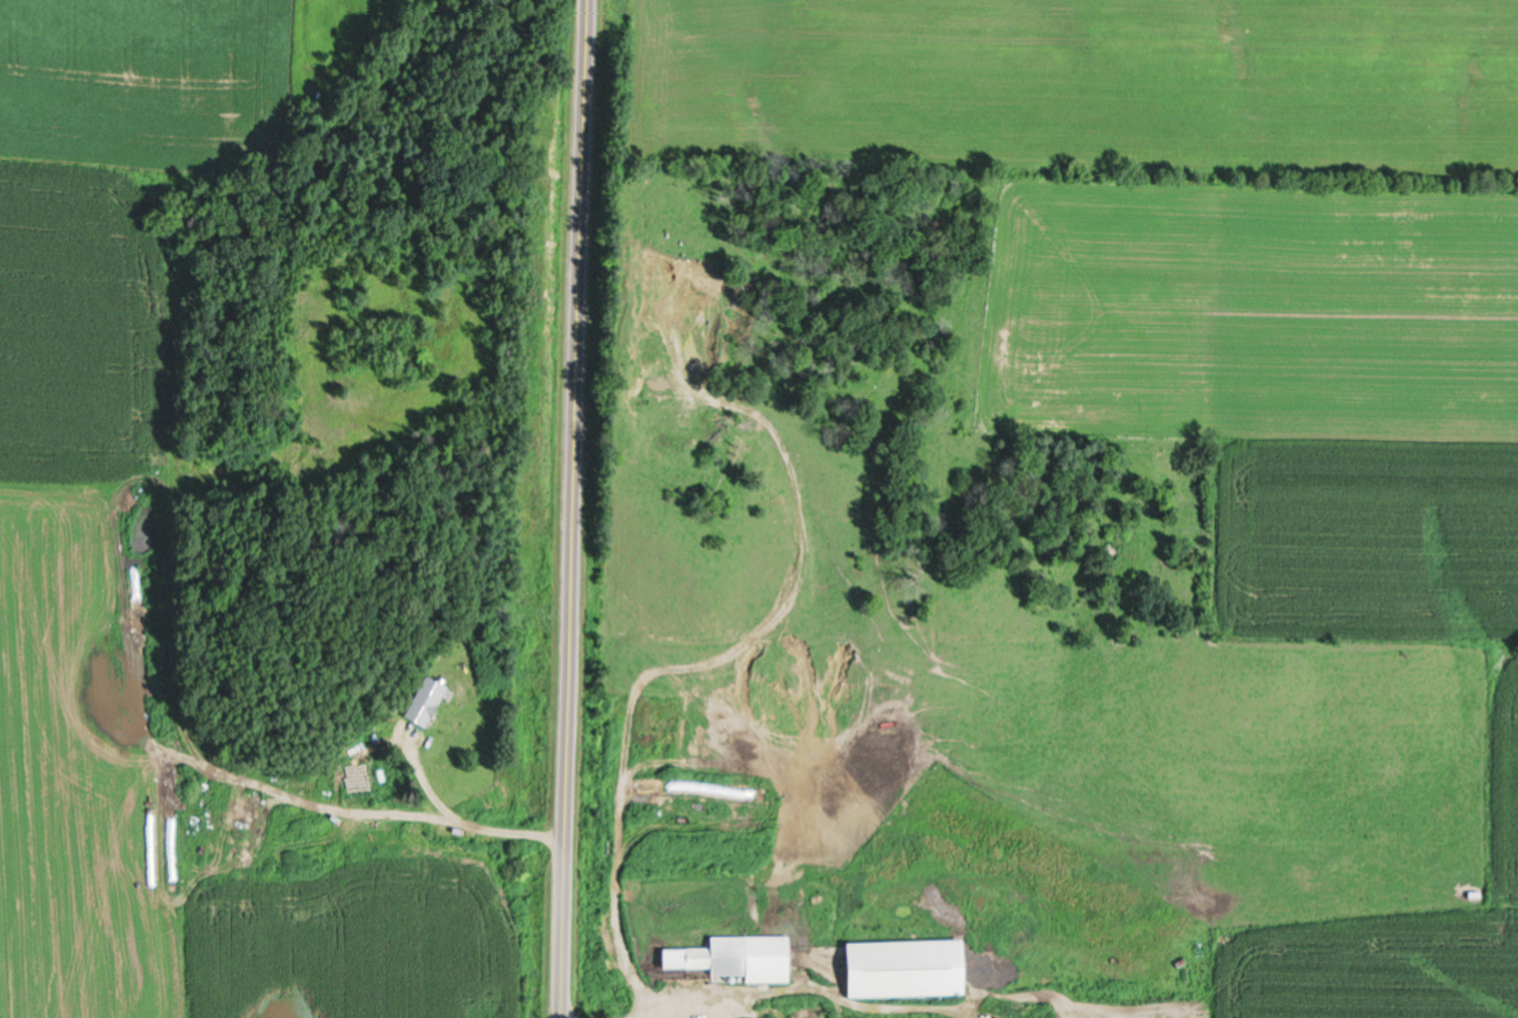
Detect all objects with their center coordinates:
crop: (142, 77)
road: (571, 509)
crop: (92, 585)
building: (421, 700)
road: (467, 822)
crop: (328, 903)
building: (732, 957)
building: (901, 969)
crop: (495, 970)

